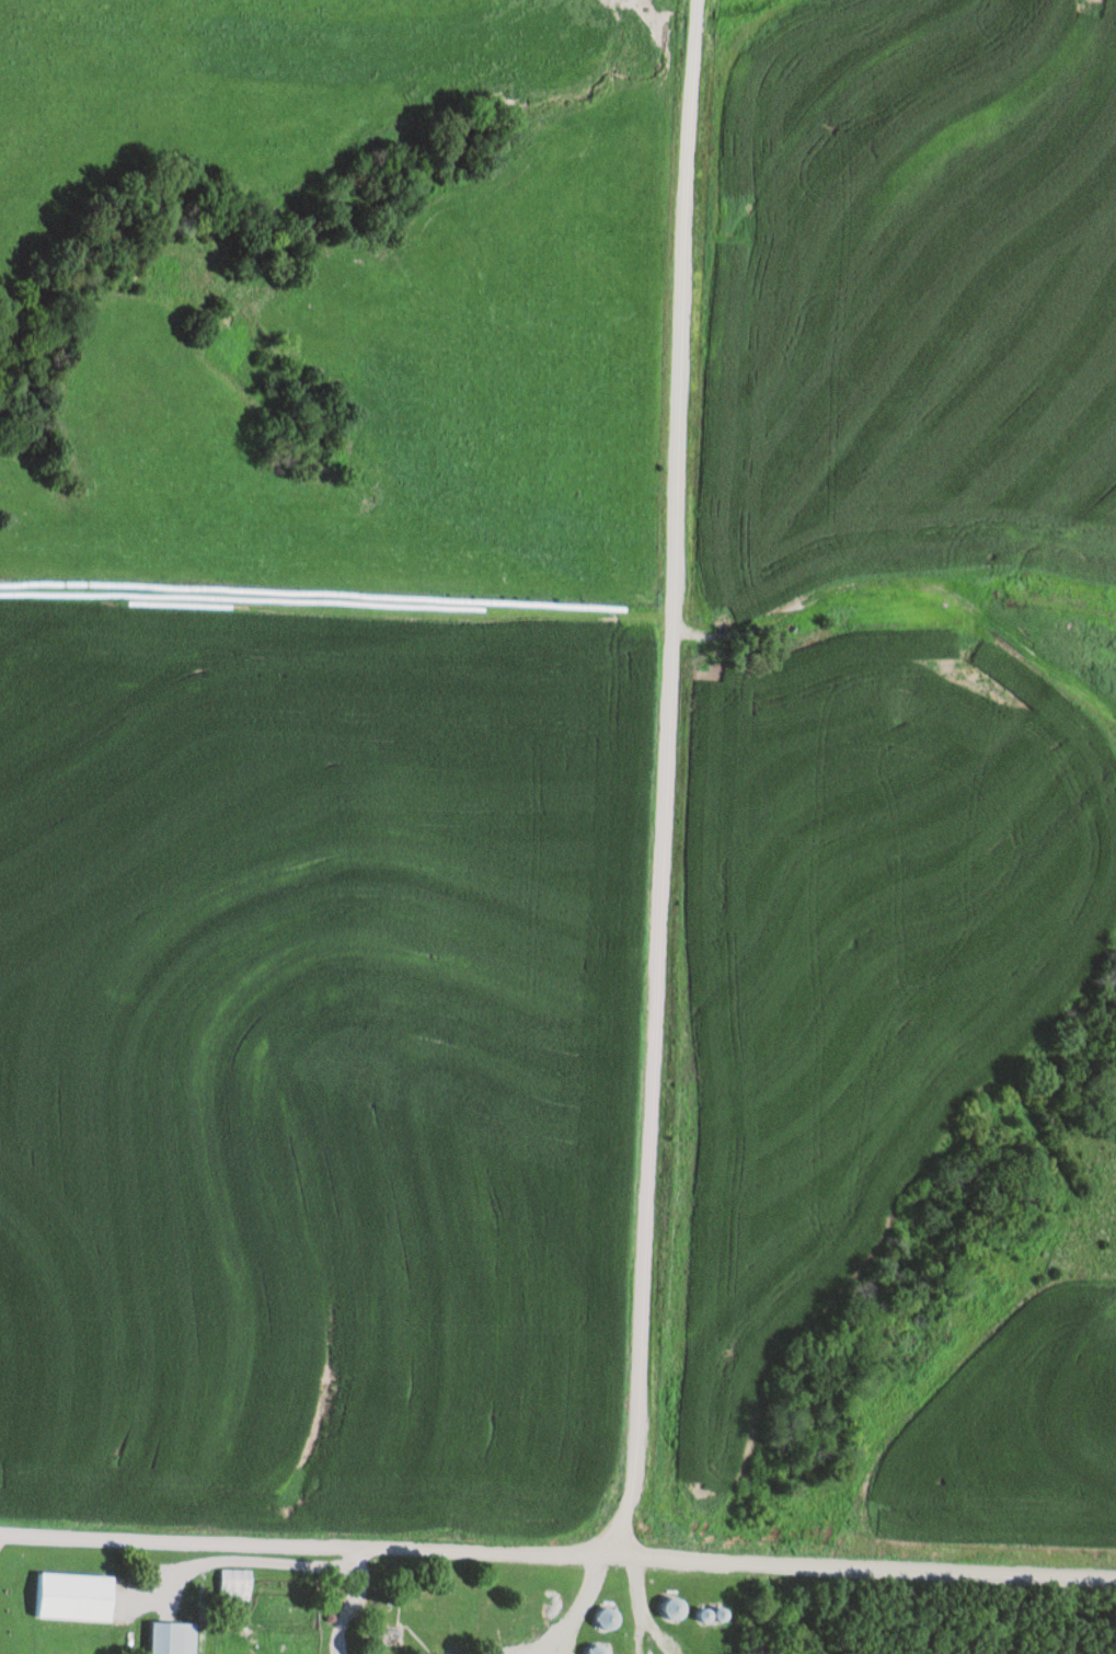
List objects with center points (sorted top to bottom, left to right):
road: (814, 588)
road: (667, 776)
crop: (318, 1057)
road: (312, 1538)
road: (323, 1551)
road: (252, 1552)
road: (635, 1552)
road: (881, 1569)
building: (228, 1585)
building: (68, 1597)
road: (352, 1597)
road: (645, 1603)
road: (584, 1604)
building: (414, 1605)
building: (668, 1608)
building: (706, 1616)
building: (601, 1619)
building: (350, 1635)
building: (165, 1639)
building: (594, 1651)

